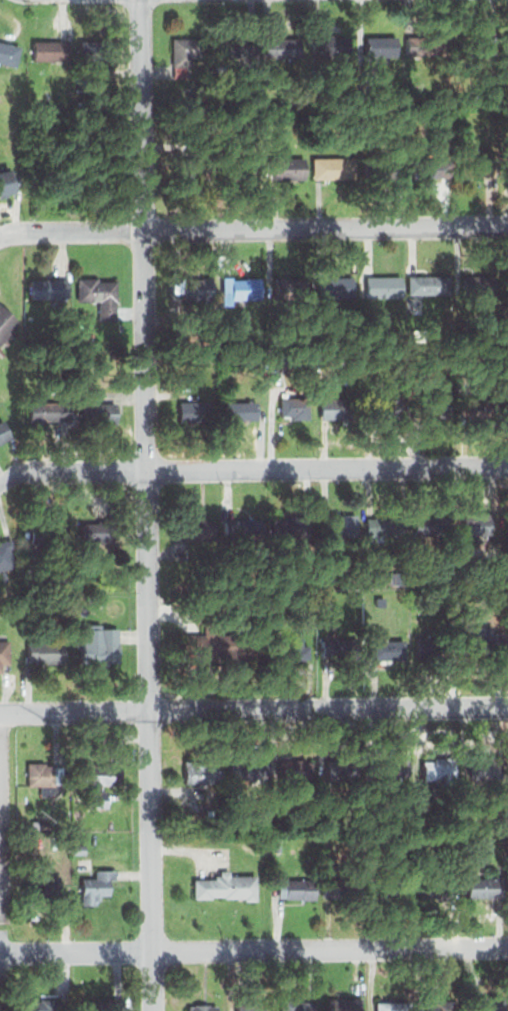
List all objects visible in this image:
building: (507, 43)
building: (426, 45)
building: (469, 45)
building: (335, 47)
building: (381, 48)
building: (52, 49)
building: (289, 50)
building: (8, 53)
building: (241, 53)
building: (98, 54)
building: (191, 57)
building: (477, 99)
building: (459, 112)
building: (199, 165)
building: (383, 166)
building: (480, 166)
building: (334, 167)
building: (244, 168)
building: (289, 168)
building: (435, 168)
building: (7, 182)
road: (253, 230)
building: (507, 279)
building: (193, 285)
building: (293, 286)
building: (337, 286)
building: (384, 286)
building: (431, 286)
building: (480, 286)
building: (242, 287)
building: (50, 288)
building: (99, 295)
building: (6, 323)
building: (484, 407)
building: (297, 409)
building: (241, 410)
building: (345, 410)
building: (389, 410)
building: (438, 410)
building: (49, 413)
building: (101, 413)
building: (191, 413)
building: (4, 432)
road: (251, 466)
road: (145, 505)
building: (473, 522)
building: (341, 524)
building: (431, 524)
building: (385, 525)
building: (292, 526)
building: (243, 527)
building: (99, 529)
building: (199, 529)
building: (51, 531)
building: (7, 555)
building: (396, 581)
building: (93, 597)
building: (380, 601)
building: (281, 624)
building: (488, 641)
building: (97, 643)
building: (252, 645)
building: (207, 646)
building: (436, 647)
building: (386, 648)
building: (294, 649)
building: (341, 649)
building: (46, 651)
building: (8, 654)
road: (254, 710)
building: (345, 766)
building: (396, 768)
building: (297, 770)
building: (442, 770)
building: (490, 770)
building: (250, 772)
building: (203, 774)
building: (100, 776)
building: (46, 778)
building: (211, 813)
building: (278, 848)
building: (78, 850)
park: (6, 864)
building: (96, 886)
building: (228, 886)
building: (296, 887)
building: (343, 888)
building: (481, 888)
building: (440, 889)
building: (392, 891)
building: (43, 892)
road: (253, 948)
building: (100, 1004)
building: (345, 1004)
building: (36, 1005)
building: (393, 1005)
building: (298, 1006)
building: (437, 1006)
building: (484, 1006)
building: (251, 1007)
building: (202, 1008)

